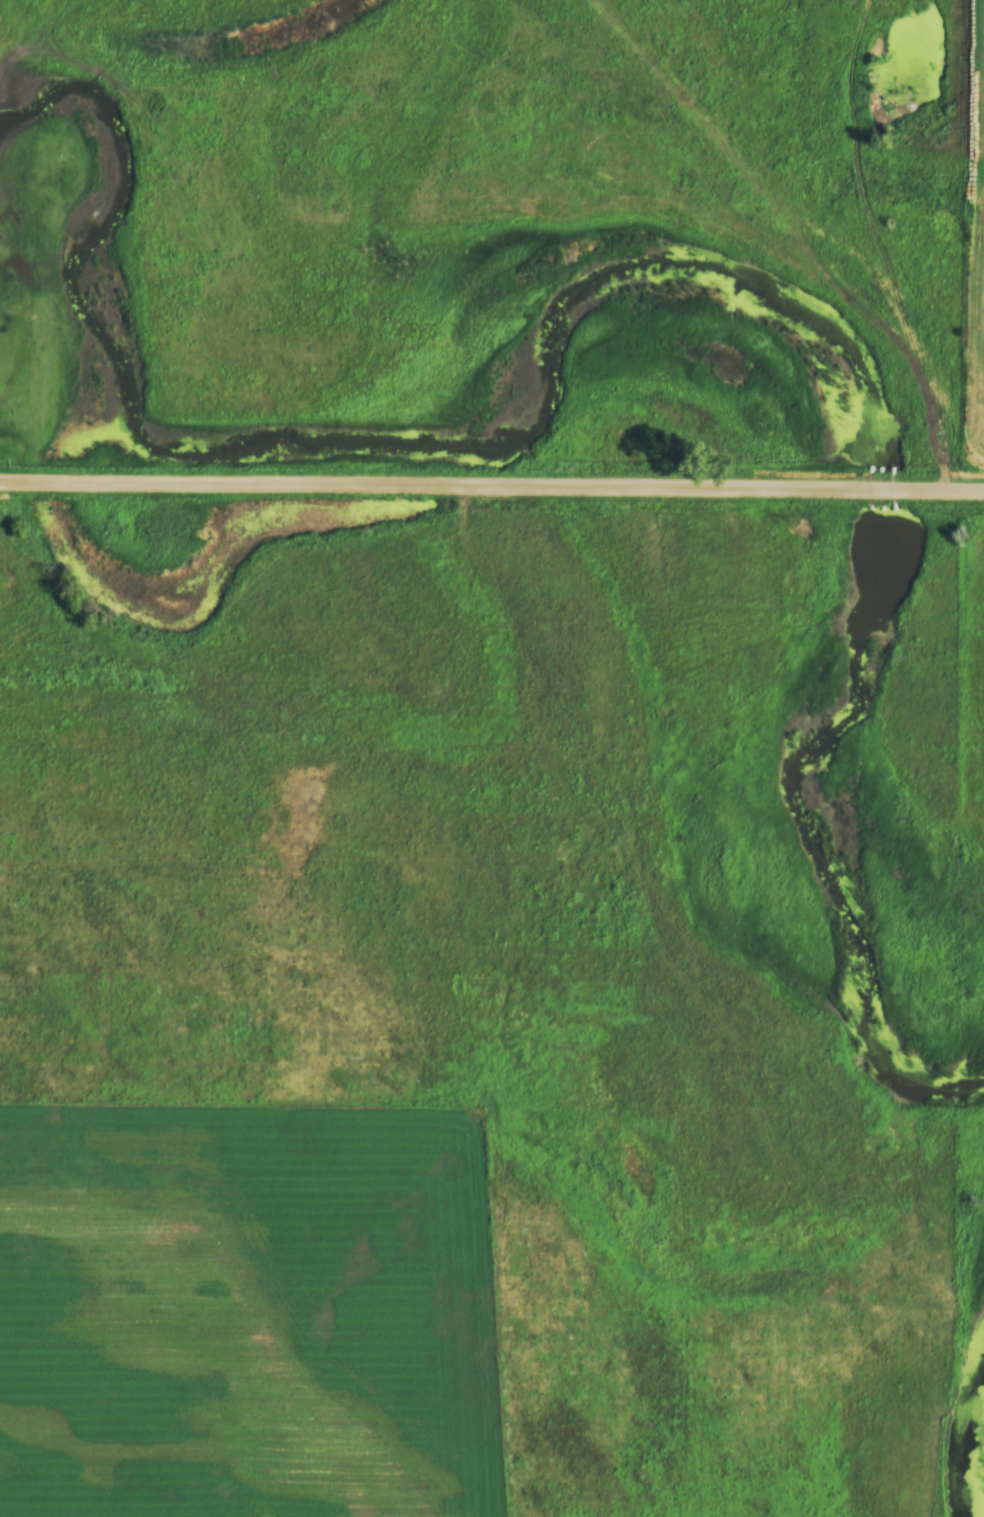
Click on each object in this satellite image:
river: (390, 436)
road: (946, 448)
road: (492, 484)
river: (883, 486)
river: (813, 853)
river: (961, 1451)

